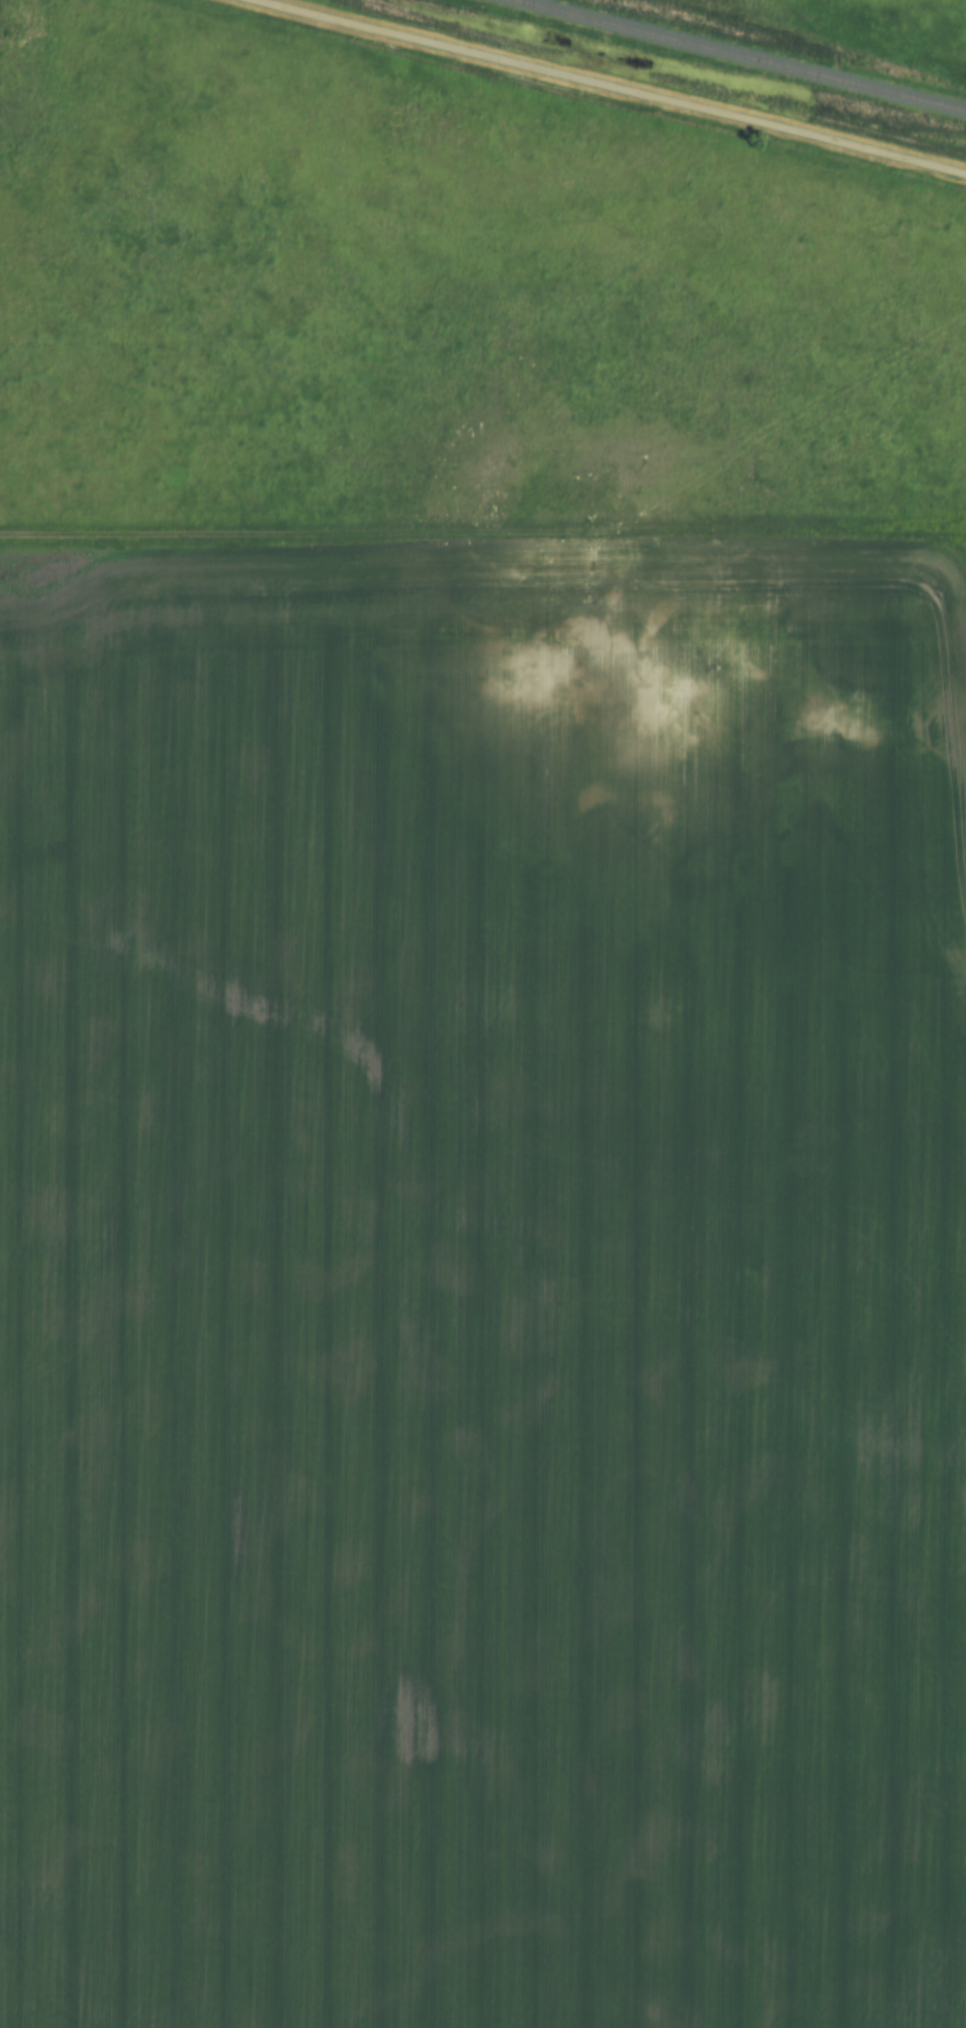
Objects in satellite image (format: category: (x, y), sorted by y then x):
railway: (736, 56)
road: (608, 88)
road: (482, 534)

